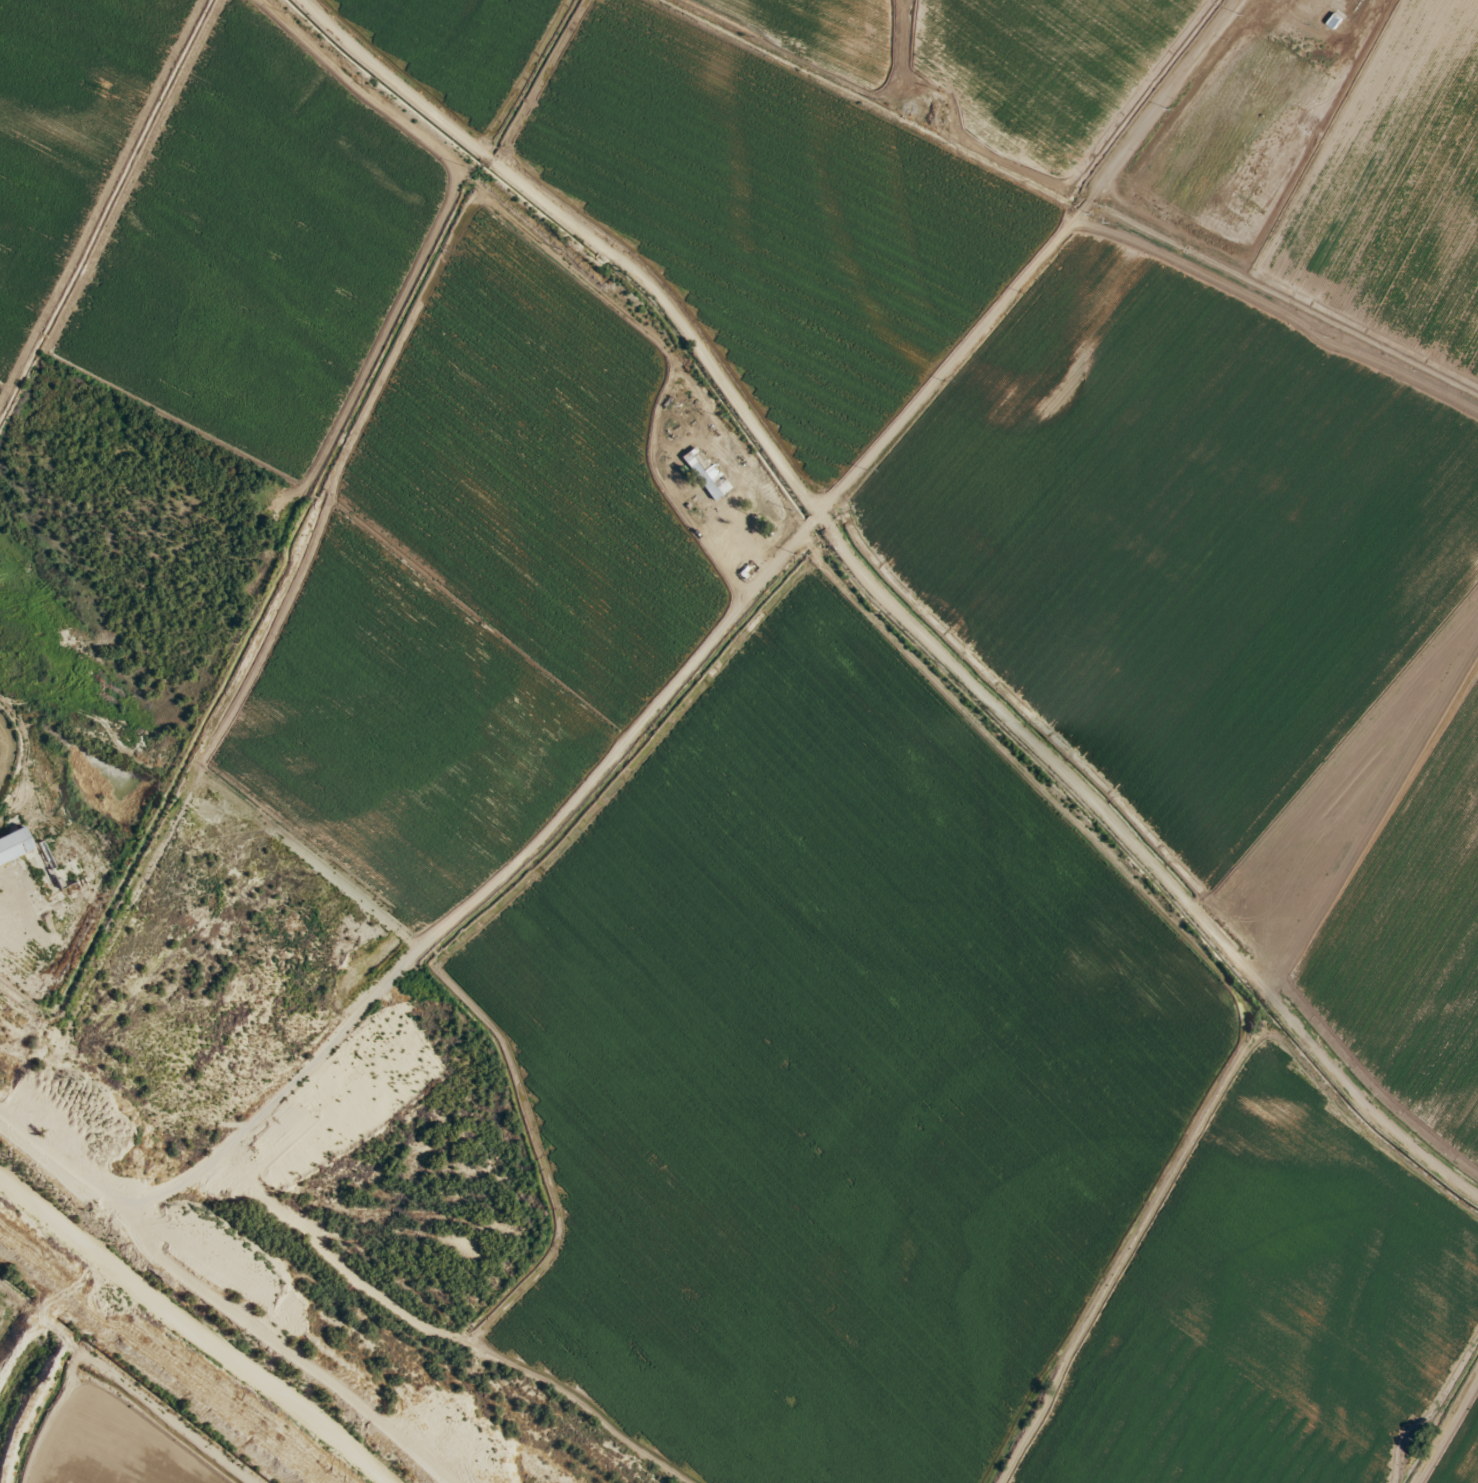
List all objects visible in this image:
crop: (1, 1296)

